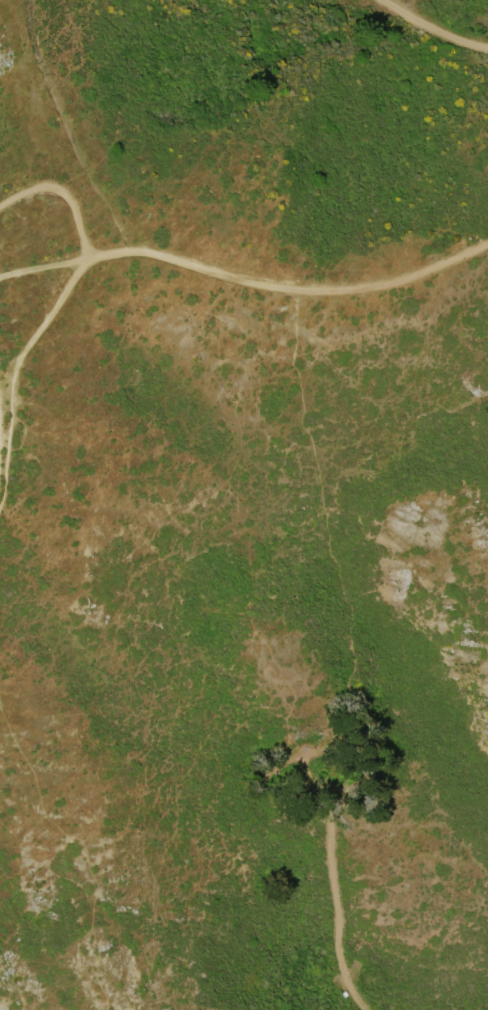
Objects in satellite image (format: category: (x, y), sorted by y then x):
road: (433, 29)
road: (65, 194)
road: (115, 257)
road: (43, 269)
road: (315, 297)
road: (16, 371)
road: (335, 884)

